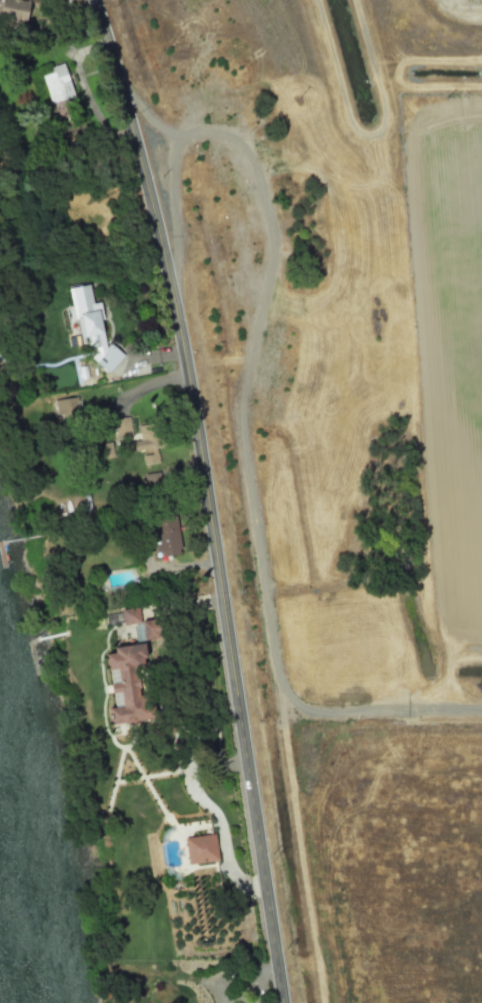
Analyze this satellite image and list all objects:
building: (13, 9)
building: (57, 83)
building: (91, 326)
building: (65, 406)
building: (122, 425)
building: (148, 441)
building: (151, 479)
road: (209, 497)
building: (165, 537)
building: (140, 624)
building: (127, 685)
building: (200, 848)

